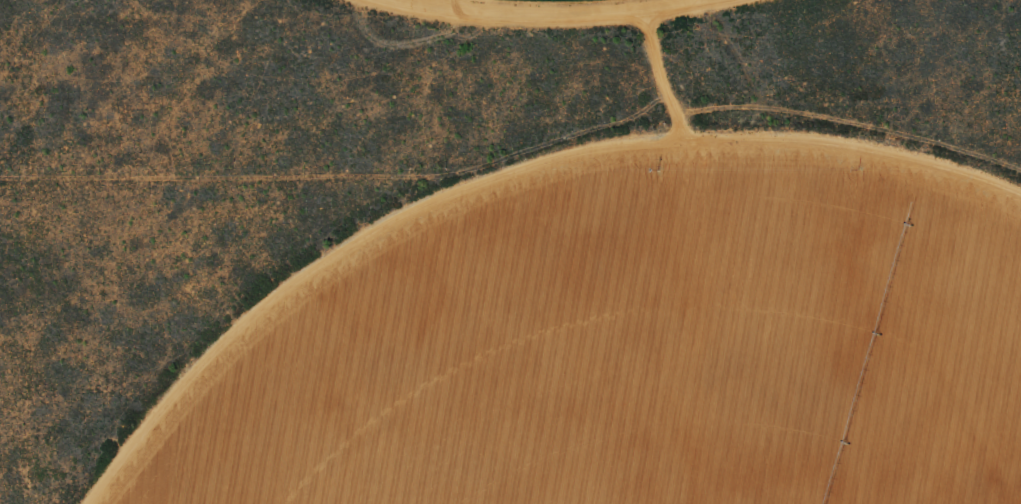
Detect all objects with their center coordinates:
road: (817, 256)

